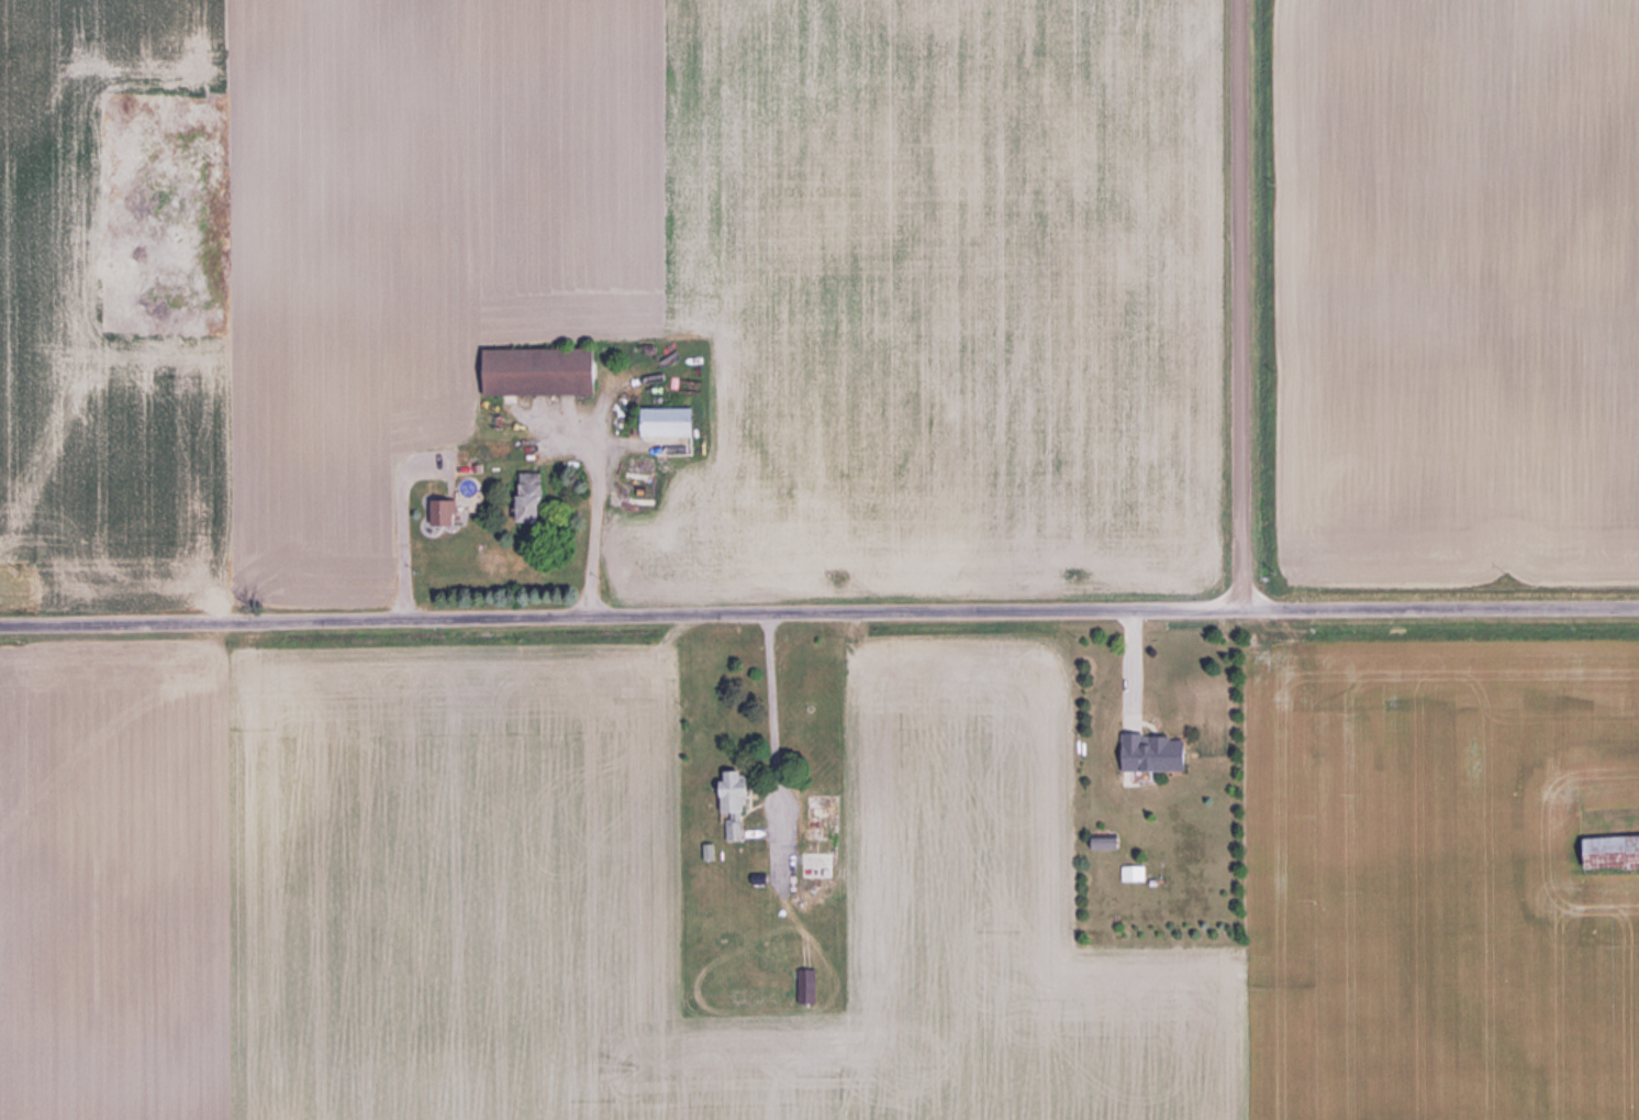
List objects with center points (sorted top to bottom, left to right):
road: (1241, 304)
building: (547, 372)
building: (676, 422)
building: (535, 498)
building: (444, 512)
road: (595, 520)
road: (401, 531)
road: (818, 613)
road: (1133, 667)
road: (773, 730)
building: (1159, 753)
building: (737, 803)
building: (827, 807)
building: (819, 867)

